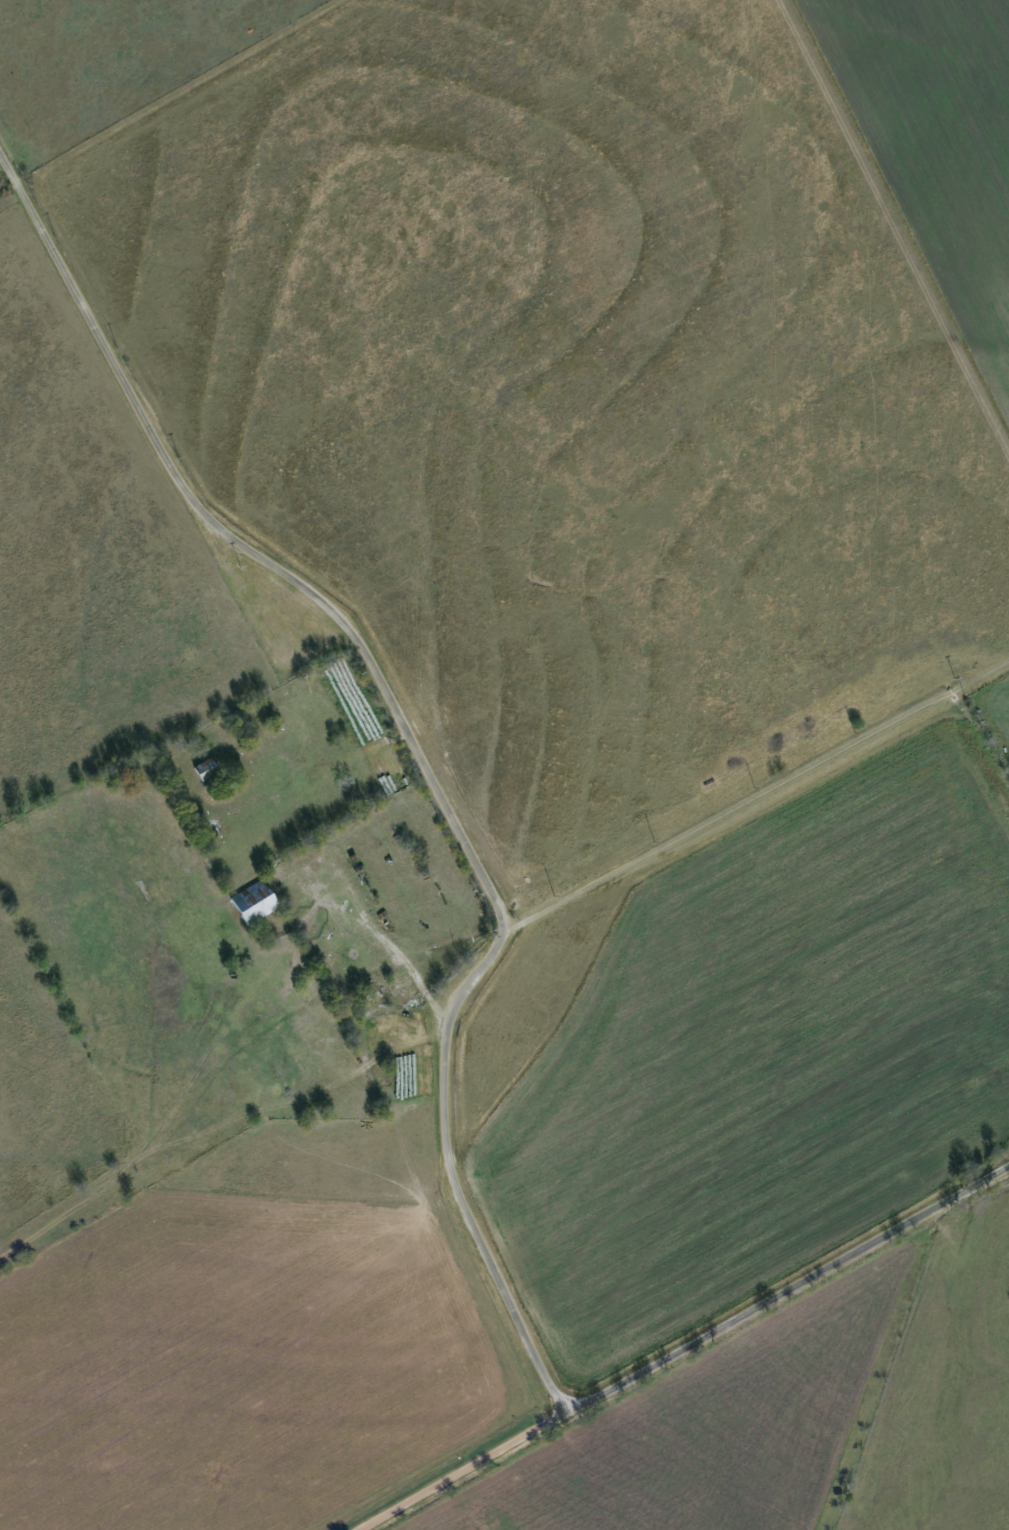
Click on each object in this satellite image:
road: (413, 746)
road: (366, 748)
building: (209, 768)
building: (257, 899)
road: (373, 935)
building: (401, 990)
road: (788, 1290)
road: (458, 1470)

